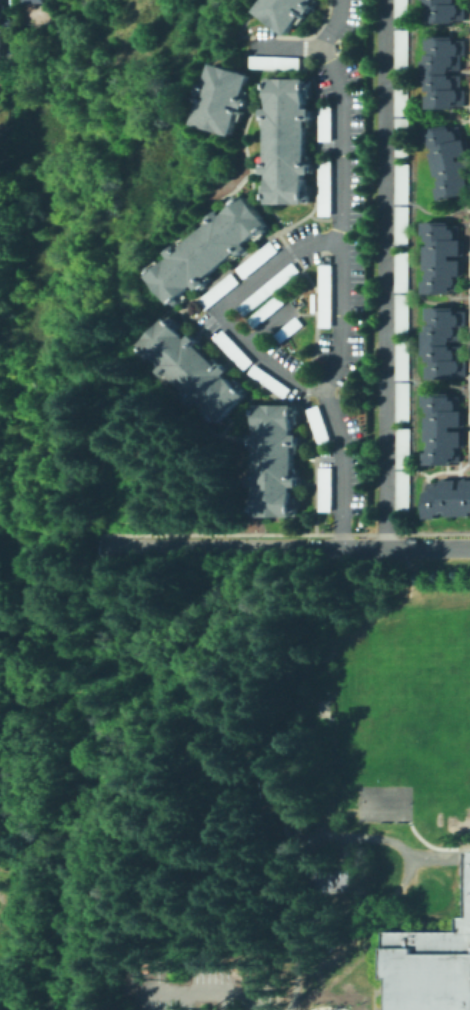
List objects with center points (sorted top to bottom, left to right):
building: (38, 0)
building: (2, 10)
building: (446, 11)
building: (286, 12)
building: (402, 13)
building: (5, 43)
road: (285, 48)
building: (402, 50)
building: (275, 62)
building: (445, 73)
building: (402, 96)
building: (224, 98)
building: (326, 122)
building: (402, 139)
building: (289, 141)
building: (449, 161)
building: (402, 184)
building: (326, 187)
building: (402, 227)
building: (210, 250)
building: (443, 258)
building: (258, 260)
building: (402, 273)
road: (340, 274)
road: (386, 274)
building: (469, 285)
building: (270, 289)
building: (220, 291)
building: (327, 296)
road: (229, 305)
building: (267, 311)
building: (402, 315)
building: (290, 330)
building: (445, 344)
building: (235, 349)
building: (402, 361)
building: (196, 369)
building: (271, 381)
building: (402, 403)
building: (320, 424)
building: (444, 429)
building: (405, 448)
building: (277, 460)
building: (327, 489)
building: (405, 491)
building: (448, 499)
road: (283, 544)
park: (459, 666)
park: (426, 692)
building: (385, 804)
road: (431, 856)
building: (334, 881)
road: (384, 898)
building: (431, 967)
road: (192, 989)
road: (252, 1004)

